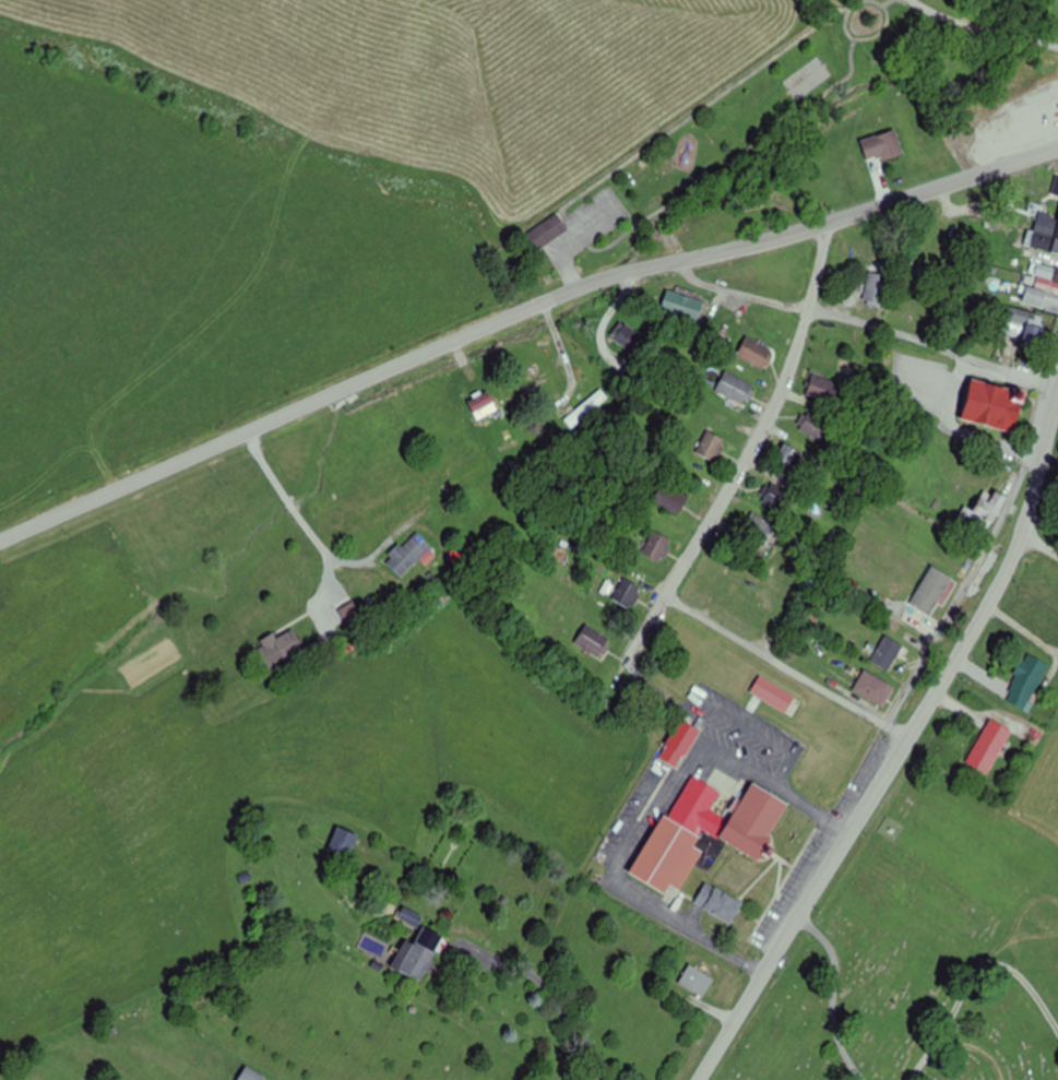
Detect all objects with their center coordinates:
road: (885, 2)
road: (936, 14)
road: (1010, 34)
road: (868, 38)
park: (810, 78)
park: (704, 146)
building: (882, 146)
parking lot: (602, 215)
road: (655, 215)
road: (659, 224)
road: (572, 228)
building: (548, 229)
building: (1039, 229)
road: (569, 239)
building: (1056, 246)
road: (786, 252)
road: (698, 258)
building: (875, 289)
building: (1043, 289)
building: (683, 306)
building: (1024, 325)
building: (627, 336)
road: (934, 346)
building: (756, 354)
building: (735, 388)
building: (823, 389)
building: (484, 405)
building: (994, 405)
building: (586, 410)
road: (765, 417)
building: (712, 446)
building: (788, 458)
road: (173, 464)
building: (777, 497)
building: (670, 498)
building: (985, 510)
building: (657, 546)
building: (408, 554)
building: (954, 554)
road: (971, 579)
building: (937, 580)
building: (880, 585)
building: (628, 593)
road: (643, 633)
building: (594, 641)
building: (280, 650)
building: (888, 653)
road: (787, 666)
building: (1027, 683)
building: (871, 687)
building: (770, 693)
road: (757, 735)
building: (679, 743)
building: (989, 746)
road: (901, 750)
road: (659, 811)
building: (742, 834)
flagpole: (798, 840)
building: (343, 842)
building: (717, 902)
park: (920, 949)
building: (416, 954)
building: (697, 981)
road: (550, 992)
building: (250, 1076)

